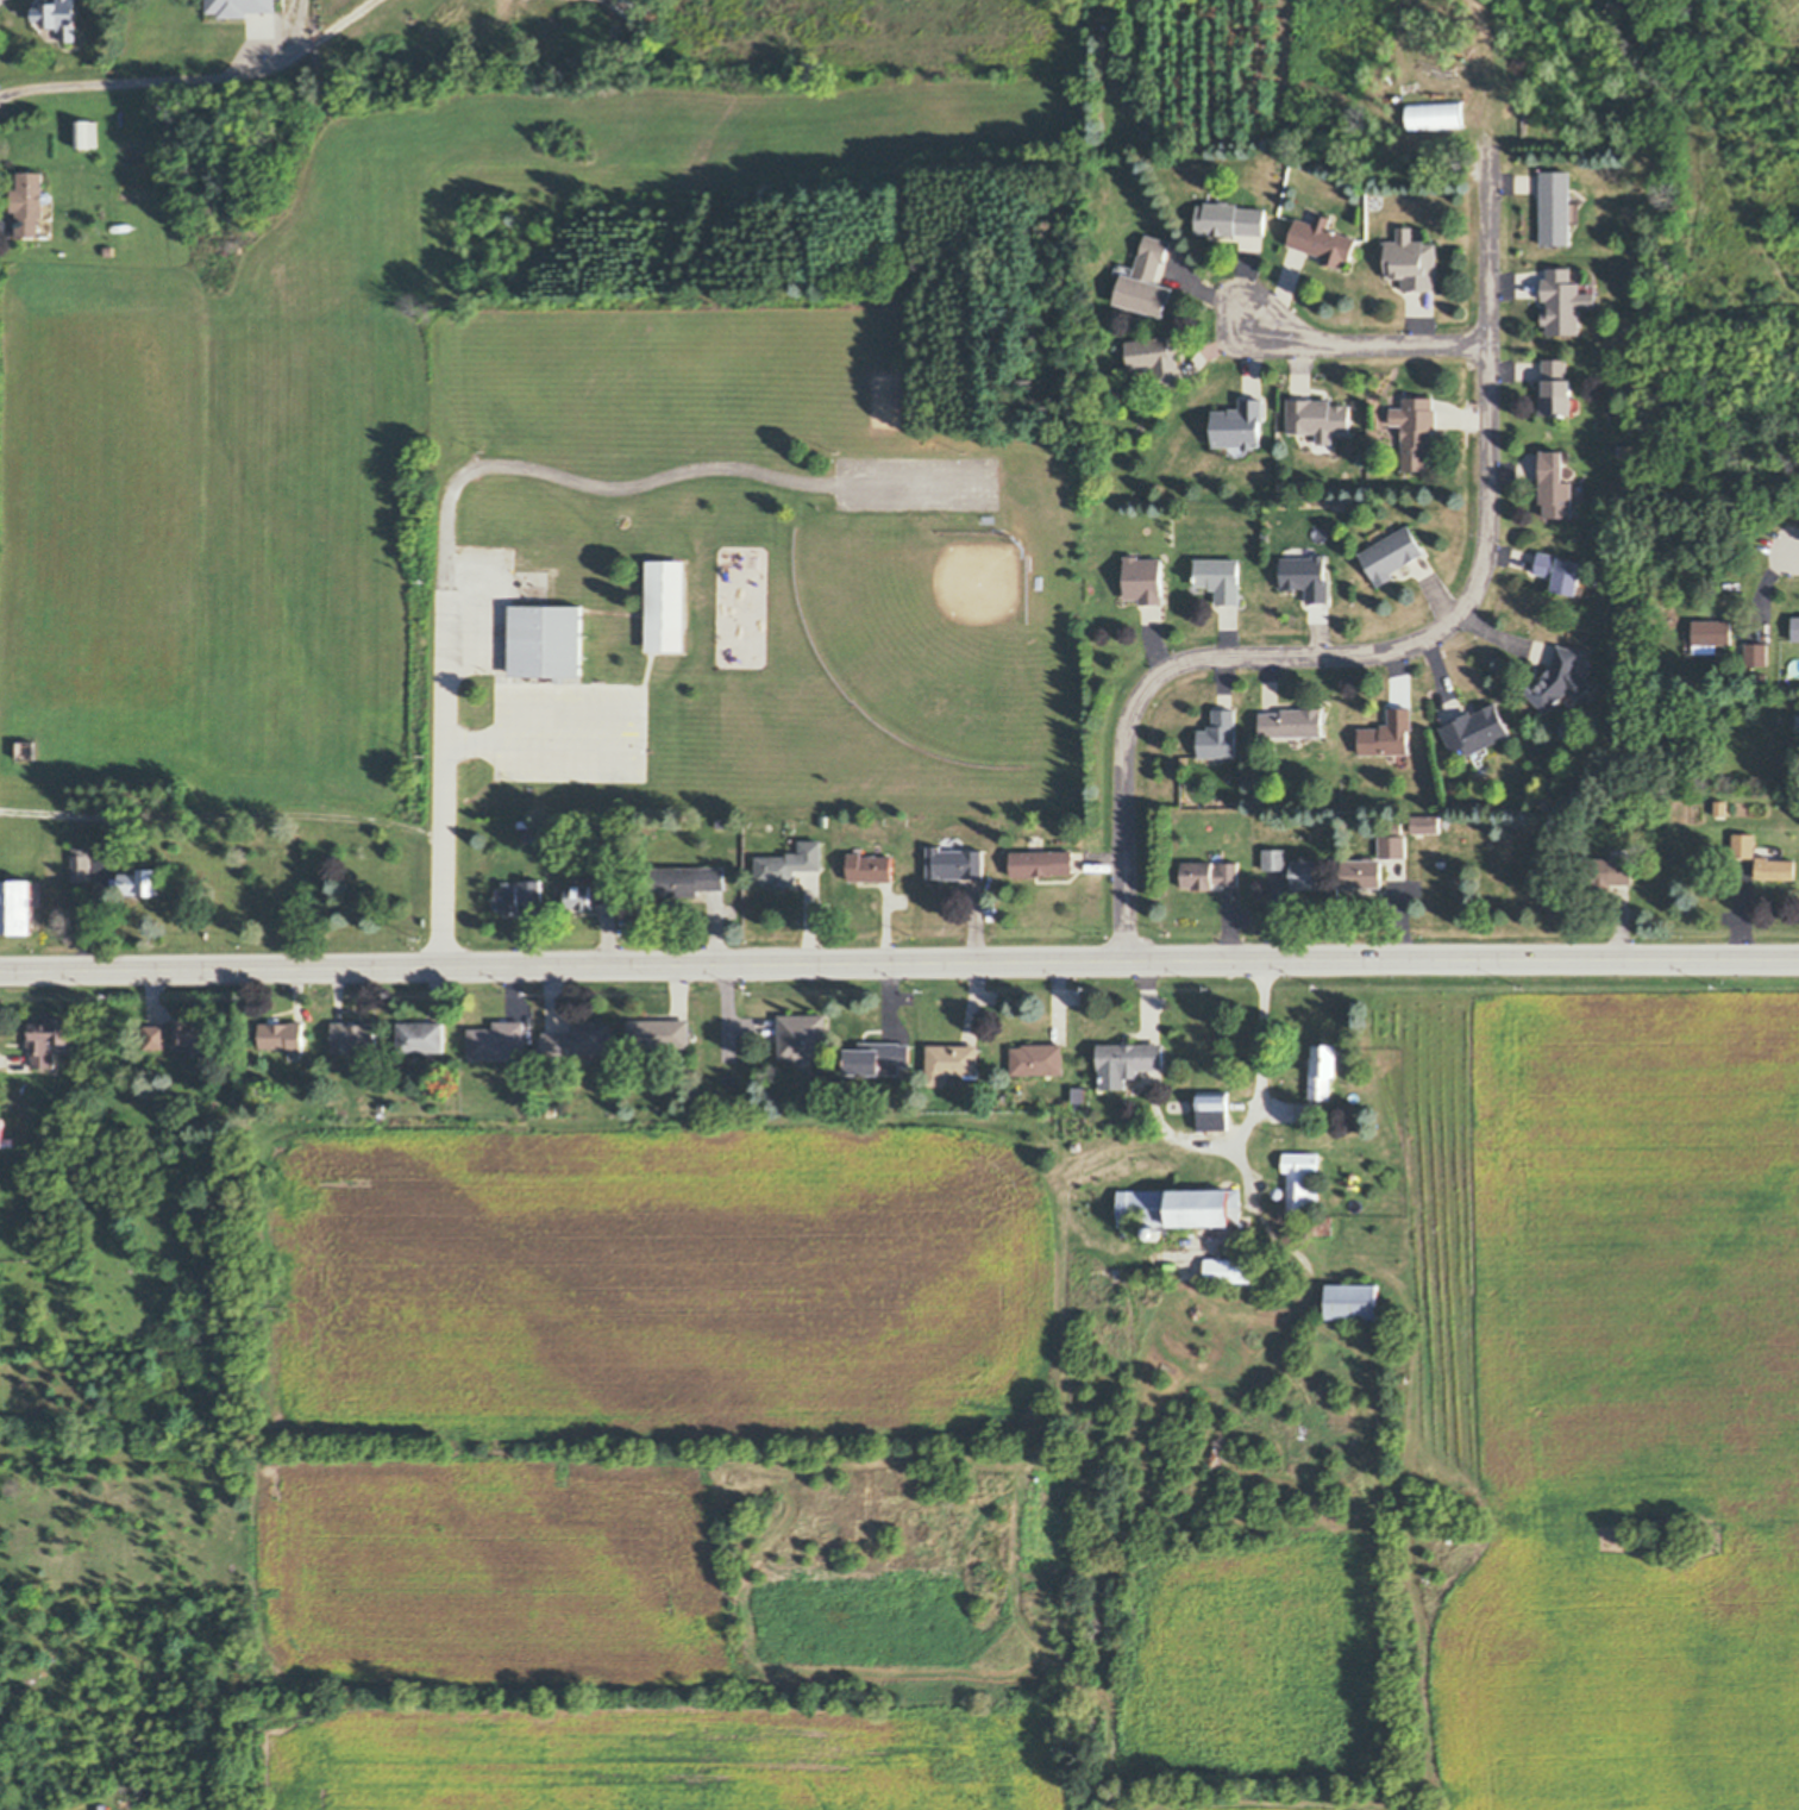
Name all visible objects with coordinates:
building: (243, 6)
building: (221, 15)
building: (63, 18)
building: (1097, 19)
building: (37, 20)
crop: (875, 38)
road: (198, 81)
building: (1129, 87)
building: (1130, 112)
building: (86, 134)
building: (30, 202)
building: (1560, 206)
building: (1231, 217)
building: (45, 221)
building: (1324, 239)
building: (109, 251)
building: (63, 252)
building: (1415, 259)
building: (1148, 280)
building: (1568, 300)
road: (1366, 344)
building: (1153, 357)
building: (1560, 388)
building: (1321, 417)
building: (1240, 424)
building: (1419, 428)
road: (698, 469)
parking lot: (916, 483)
building: (1560, 488)
building: (961, 518)
building: (979, 520)
park: (803, 546)
building: (1299, 553)
building: (1396, 553)
road: (1795, 553)
building: (1568, 570)
building: (1222, 577)
building: (1311, 577)
building: (1143, 582)
building: (1592, 583)
building: (1035, 585)
building: (666, 606)
building: (1628, 628)
building: (1797, 628)
building: (1711, 632)
park: (924, 633)
building: (545, 640)
building: (1704, 649)
road: (1393, 652)
building: (1755, 655)
building: (1562, 678)
building: (1760, 679)
building: (1296, 721)
road: (634, 722)
building: (1797, 722)
building: (1480, 728)
building: (1392, 733)
building: (1220, 735)
road: (463, 737)
road: (443, 739)
building: (1720, 808)
road: (222, 813)
building: (821, 820)
building: (721, 822)
building: (1430, 823)
building: (1404, 827)
building: (176, 833)
building: (526, 834)
building: (174, 845)
building: (1396, 846)
building: (1769, 852)
building: (1622, 853)
building: (1275, 858)
building: (1762, 860)
building: (1042, 862)
building: (957, 863)
building: (80, 864)
building: (789, 864)
building: (870, 865)
building: (1605, 872)
building: (1211, 873)
building: (1365, 873)
building: (1306, 875)
building: (142, 881)
building: (685, 881)
building: (531, 890)
building: (606, 891)
building: (578, 893)
building: (507, 896)
building: (18, 906)
road: (898, 964)
building: (192, 1031)
building: (659, 1033)
building: (284, 1034)
building: (802, 1034)
building: (156, 1036)
building: (356, 1036)
building: (424, 1036)
building: (579, 1039)
building: (52, 1040)
building: (499, 1040)
road: (731, 1040)
building: (65, 1046)
building: (656, 1053)
building: (297, 1054)
building: (873, 1058)
building: (1038, 1058)
building: (1129, 1059)
building: (953, 1060)
building: (1325, 1070)
building: (355, 1071)
building: (972, 1071)
building: (1017, 1075)
building: (1137, 1082)
road: (1255, 1083)
building: (356, 1084)
building: (1079, 1096)
building: (1216, 1104)
building: (549, 1108)
building: (1229, 1115)
road: (1181, 1134)
building: (6, 1135)
building: (1077, 1146)
building: (1174, 1179)
building: (1278, 1190)
building: (1306, 1194)
building: (1179, 1207)
building: (1153, 1233)
building: (1275, 1264)
building: (1236, 1266)
building: (1353, 1299)
building: (1440, 1495)
building: (1447, 1537)

